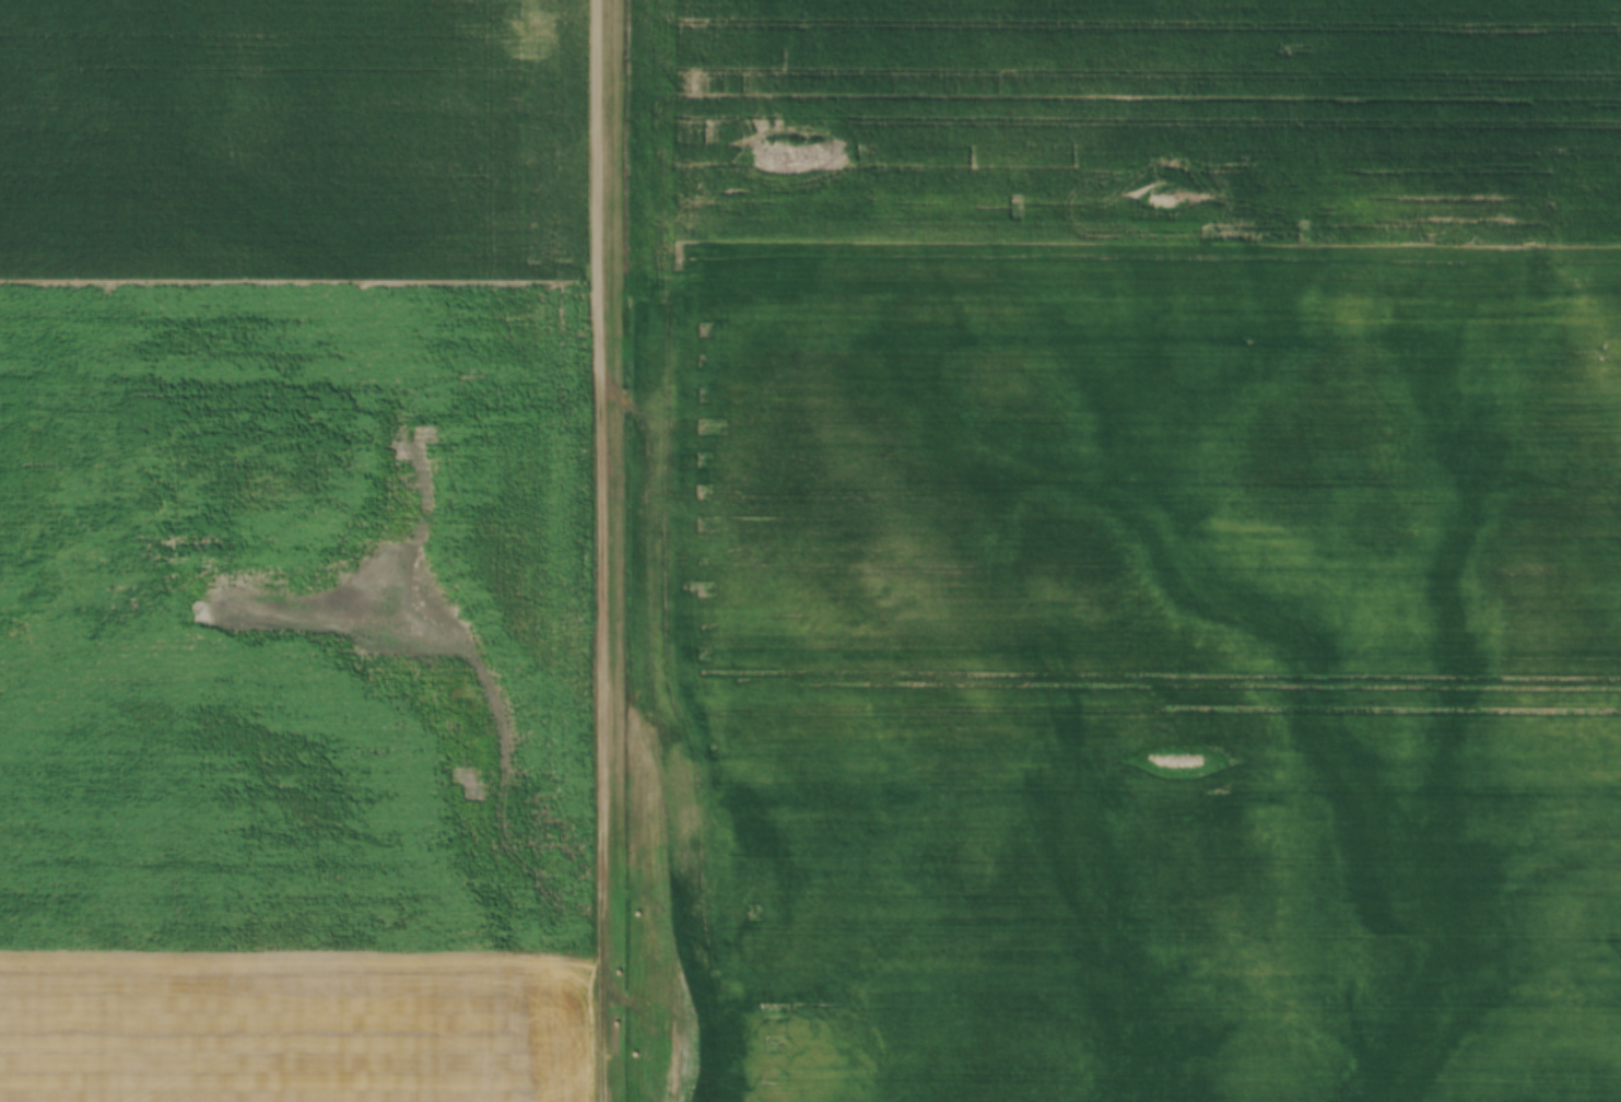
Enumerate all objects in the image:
road: (285, 444)
road: (604, 551)

